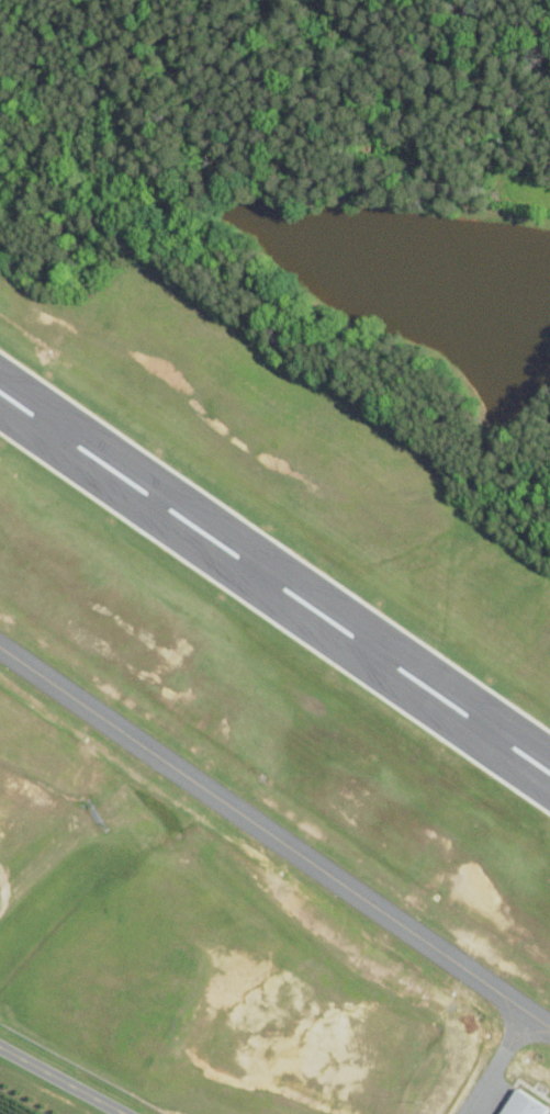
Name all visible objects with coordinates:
airport runway: (274, 581)
airport taxiway: (274, 834)
airport taxiway: (516, 1013)
airport taxiway: (498, 1058)
road: (61, 1080)
building: (523, 1104)

